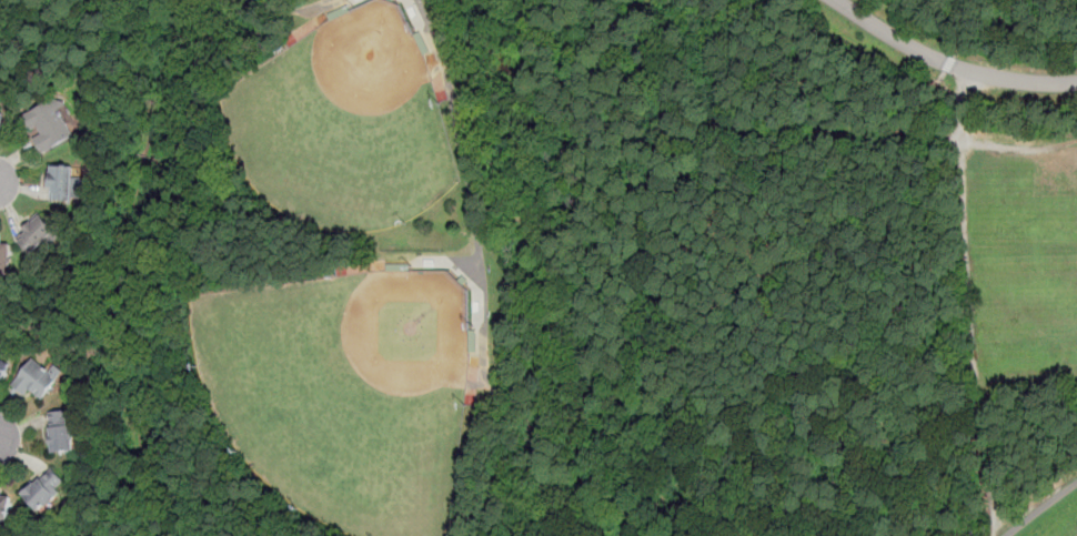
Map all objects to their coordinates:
road: (663, 3)
road: (285, 9)
road: (821, 30)
road: (707, 60)
road: (948, 64)
building: (0, 113)
building: (0, 117)
road: (711, 122)
building: (50, 124)
park: (348, 125)
road: (701, 162)
building: (61, 182)
road: (3, 184)
building: (34, 233)
building: (4, 254)
road: (435, 257)
building: (3, 269)
park: (617, 269)
road: (972, 273)
road: (482, 275)
building: (3, 367)
building: (37, 378)
park: (344, 393)
building: (60, 431)
building: (44, 488)
building: (4, 506)
road: (1039, 508)
road: (1076, 535)

